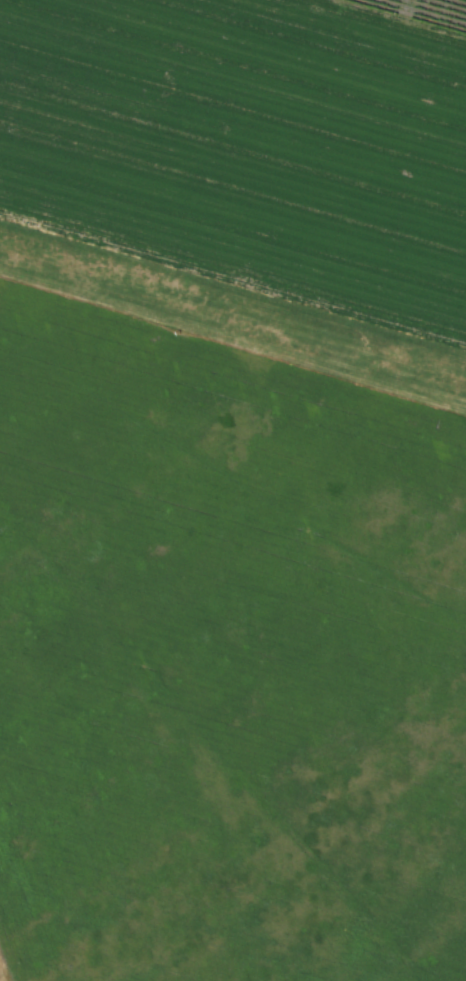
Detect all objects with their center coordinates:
airport runway: (233, 315)
airport: (239, 315)

